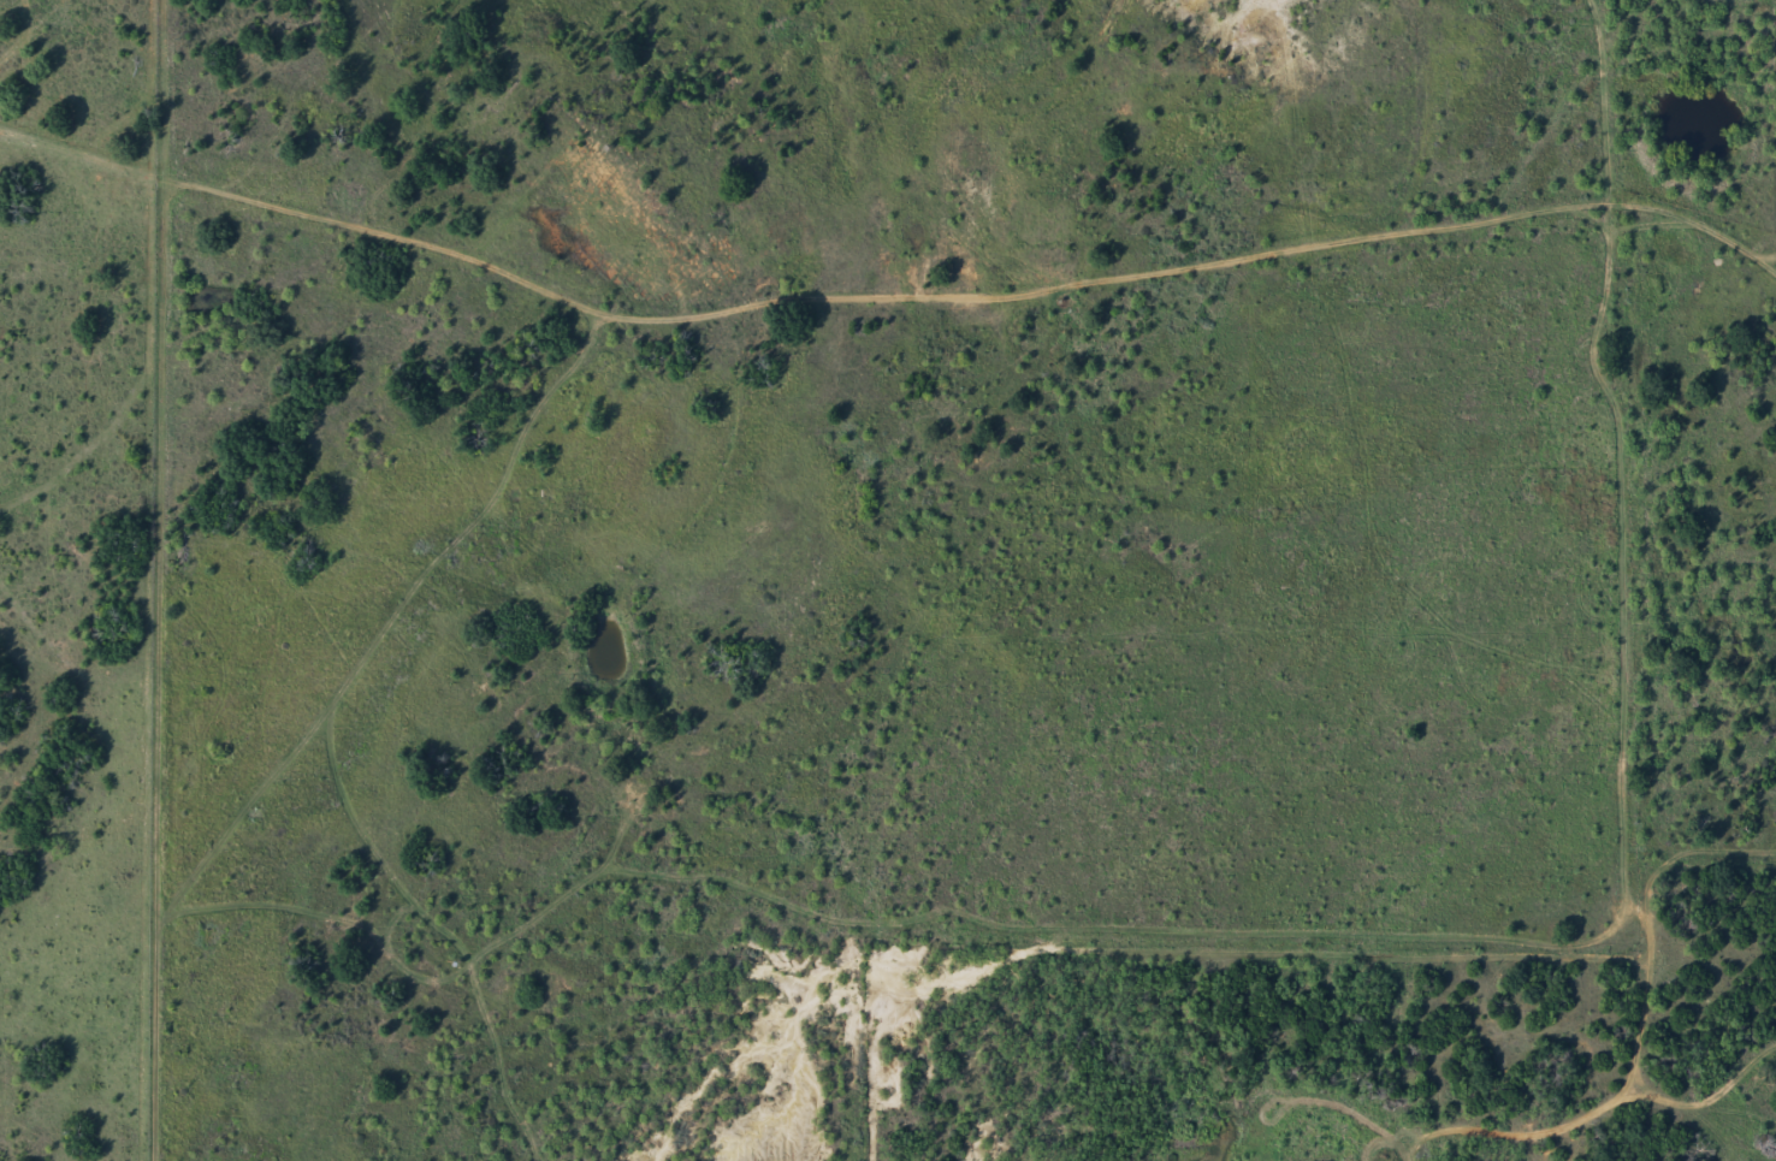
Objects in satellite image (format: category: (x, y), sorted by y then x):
road: (1485, 242)
road: (716, 344)
road: (1458, 1104)

